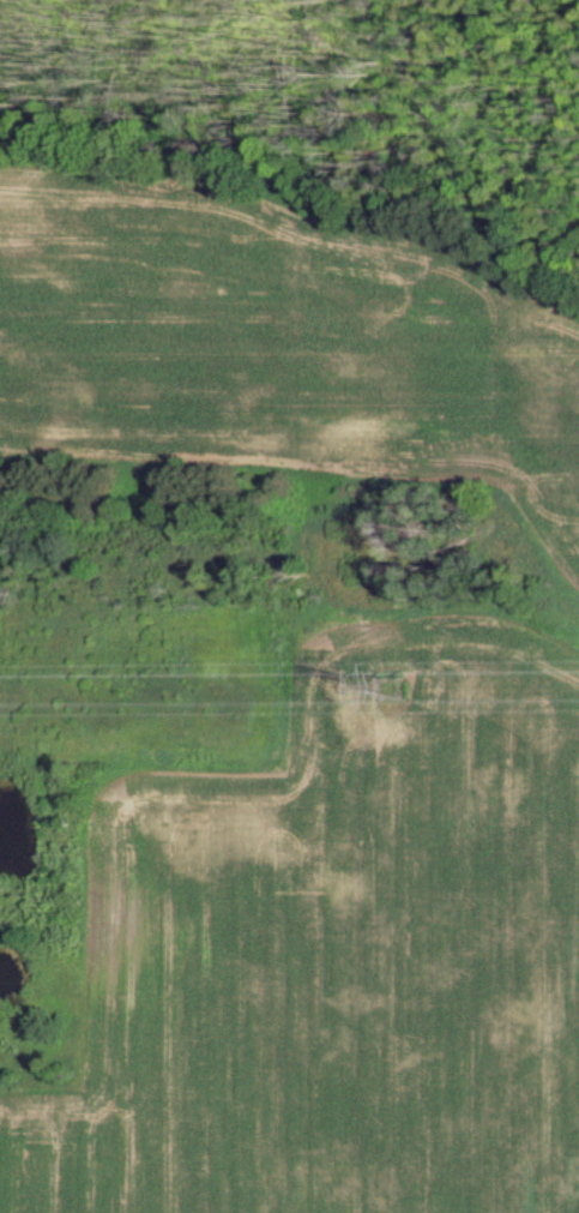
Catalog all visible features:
power tower: (399, 683)

